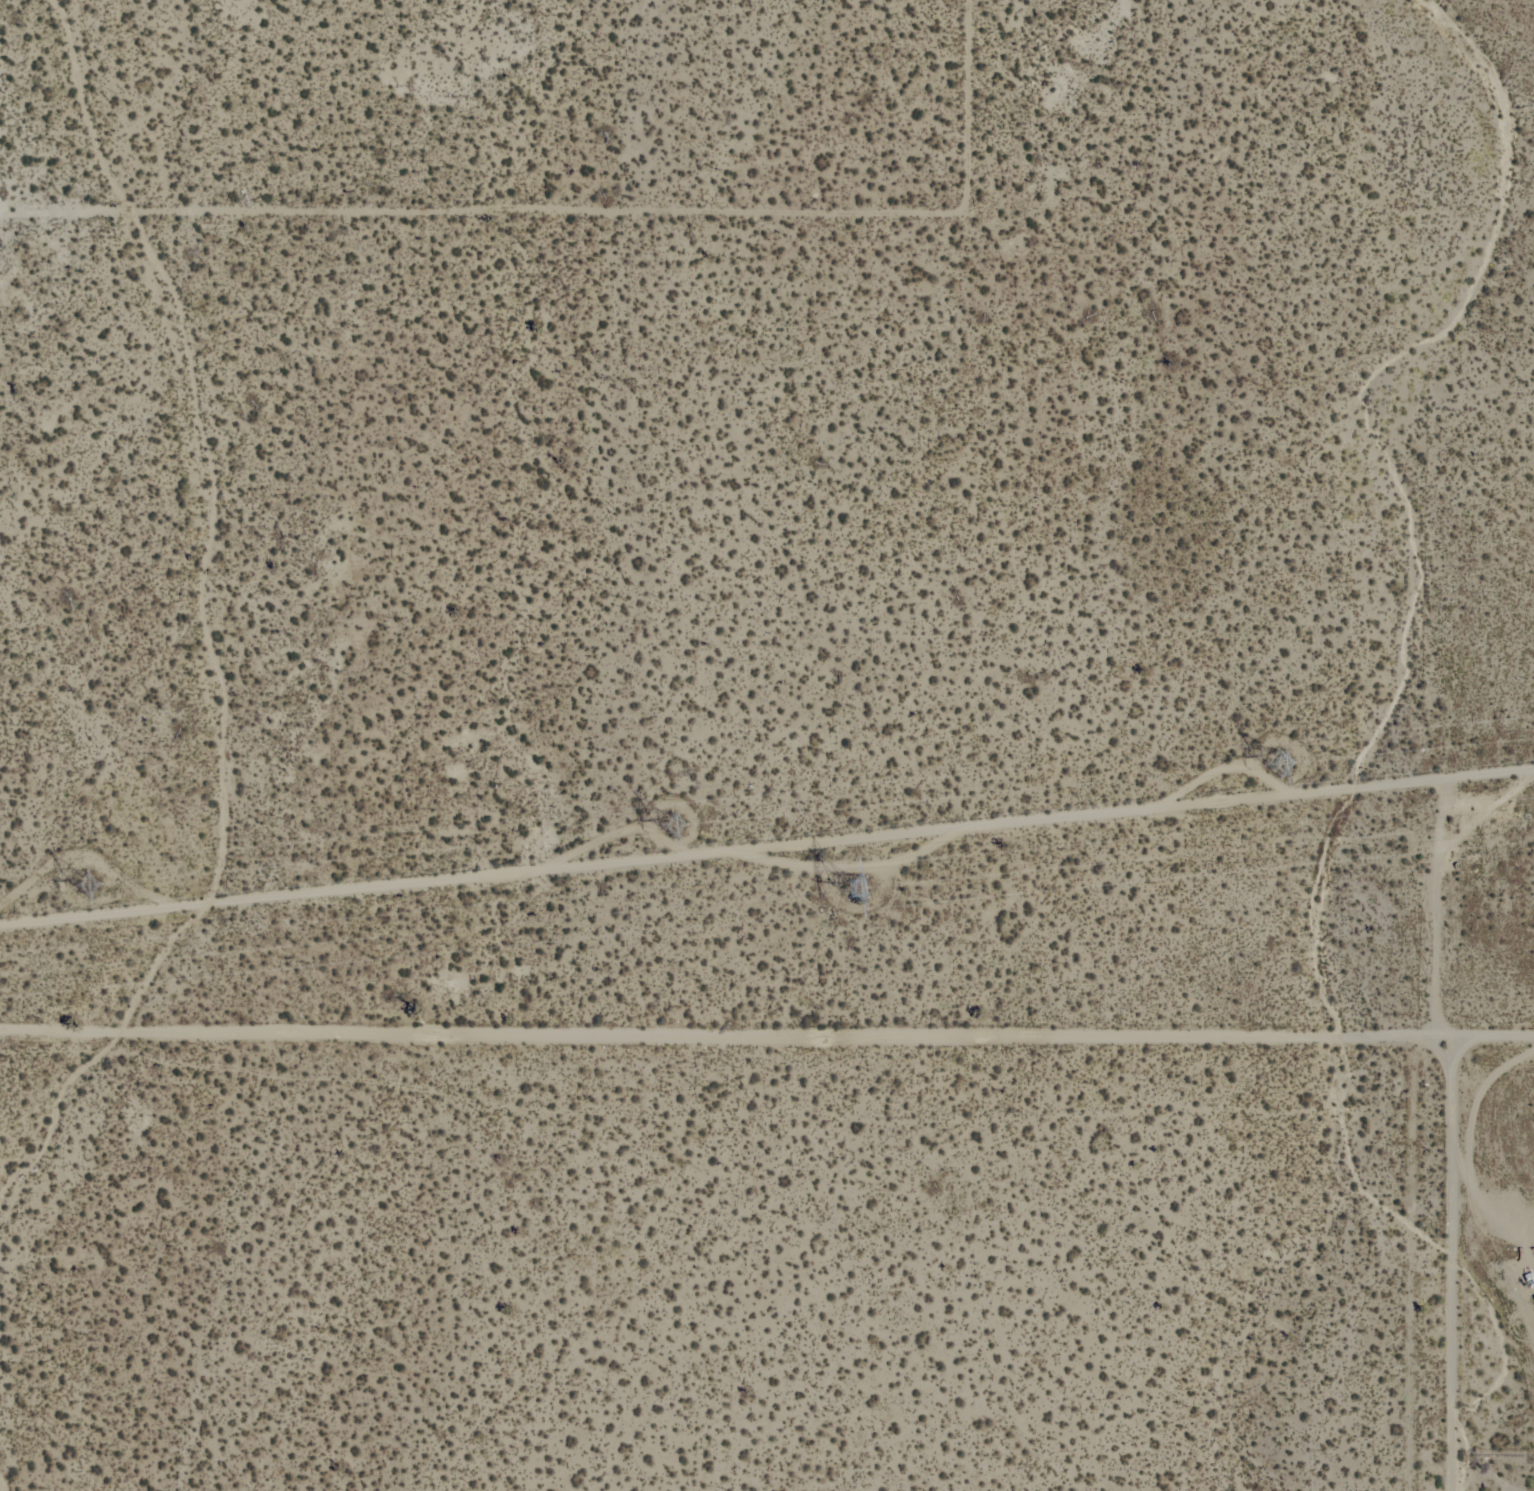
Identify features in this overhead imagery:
road: (580, 202)
power tower: (1219, 778)
power tower: (699, 832)
road: (767, 849)
power tower: (860, 893)
power tower: (70, 896)
road: (766, 1054)
road: (1447, 1269)

